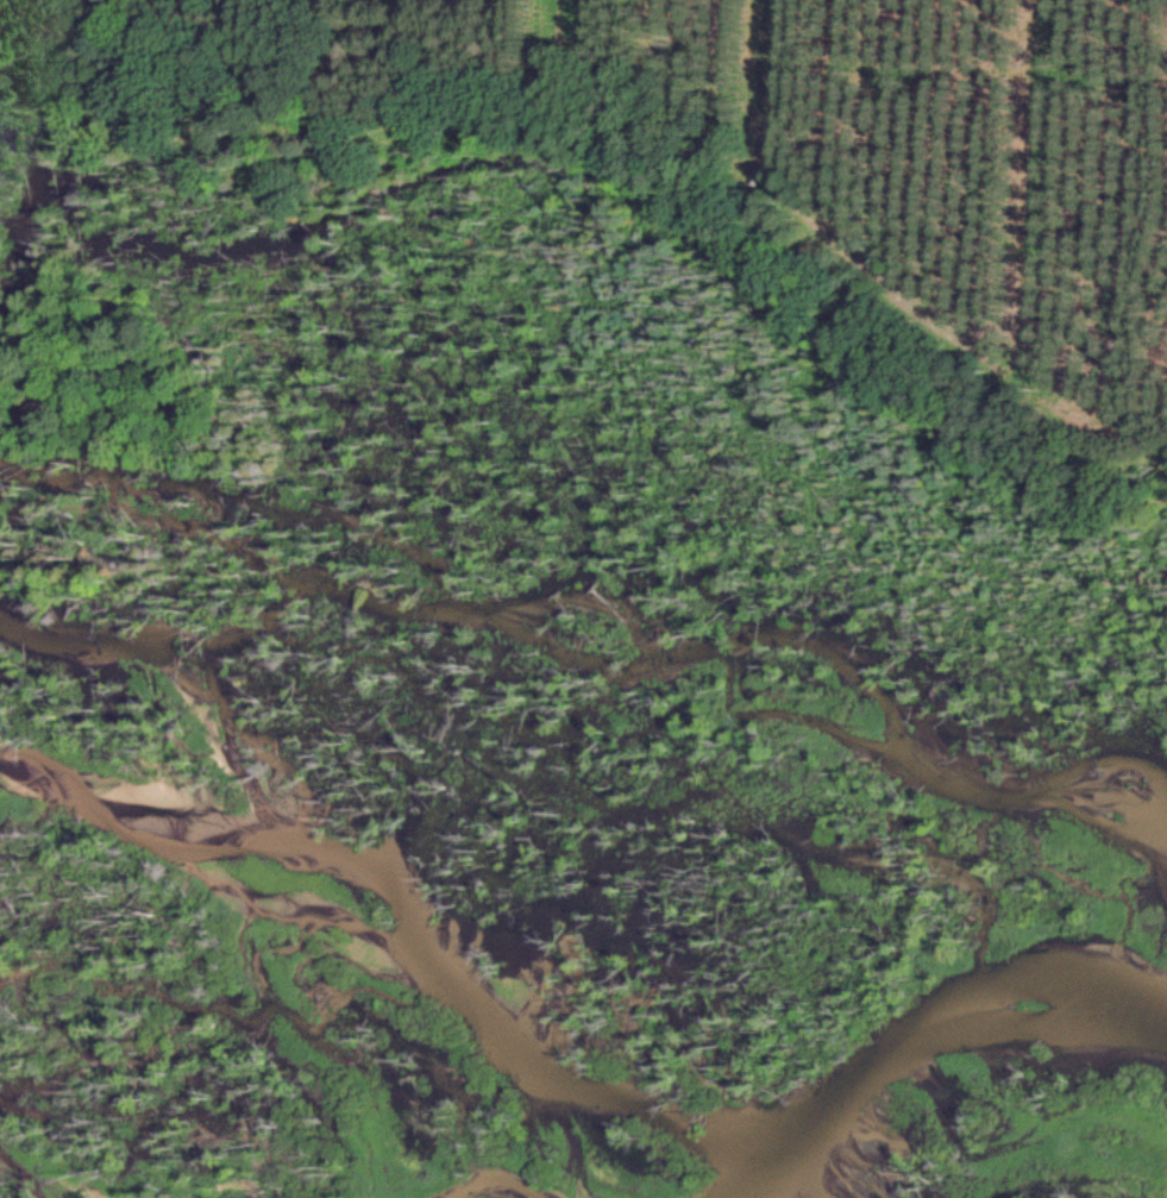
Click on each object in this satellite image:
river: (927, 1040)
river: (86, 1154)

